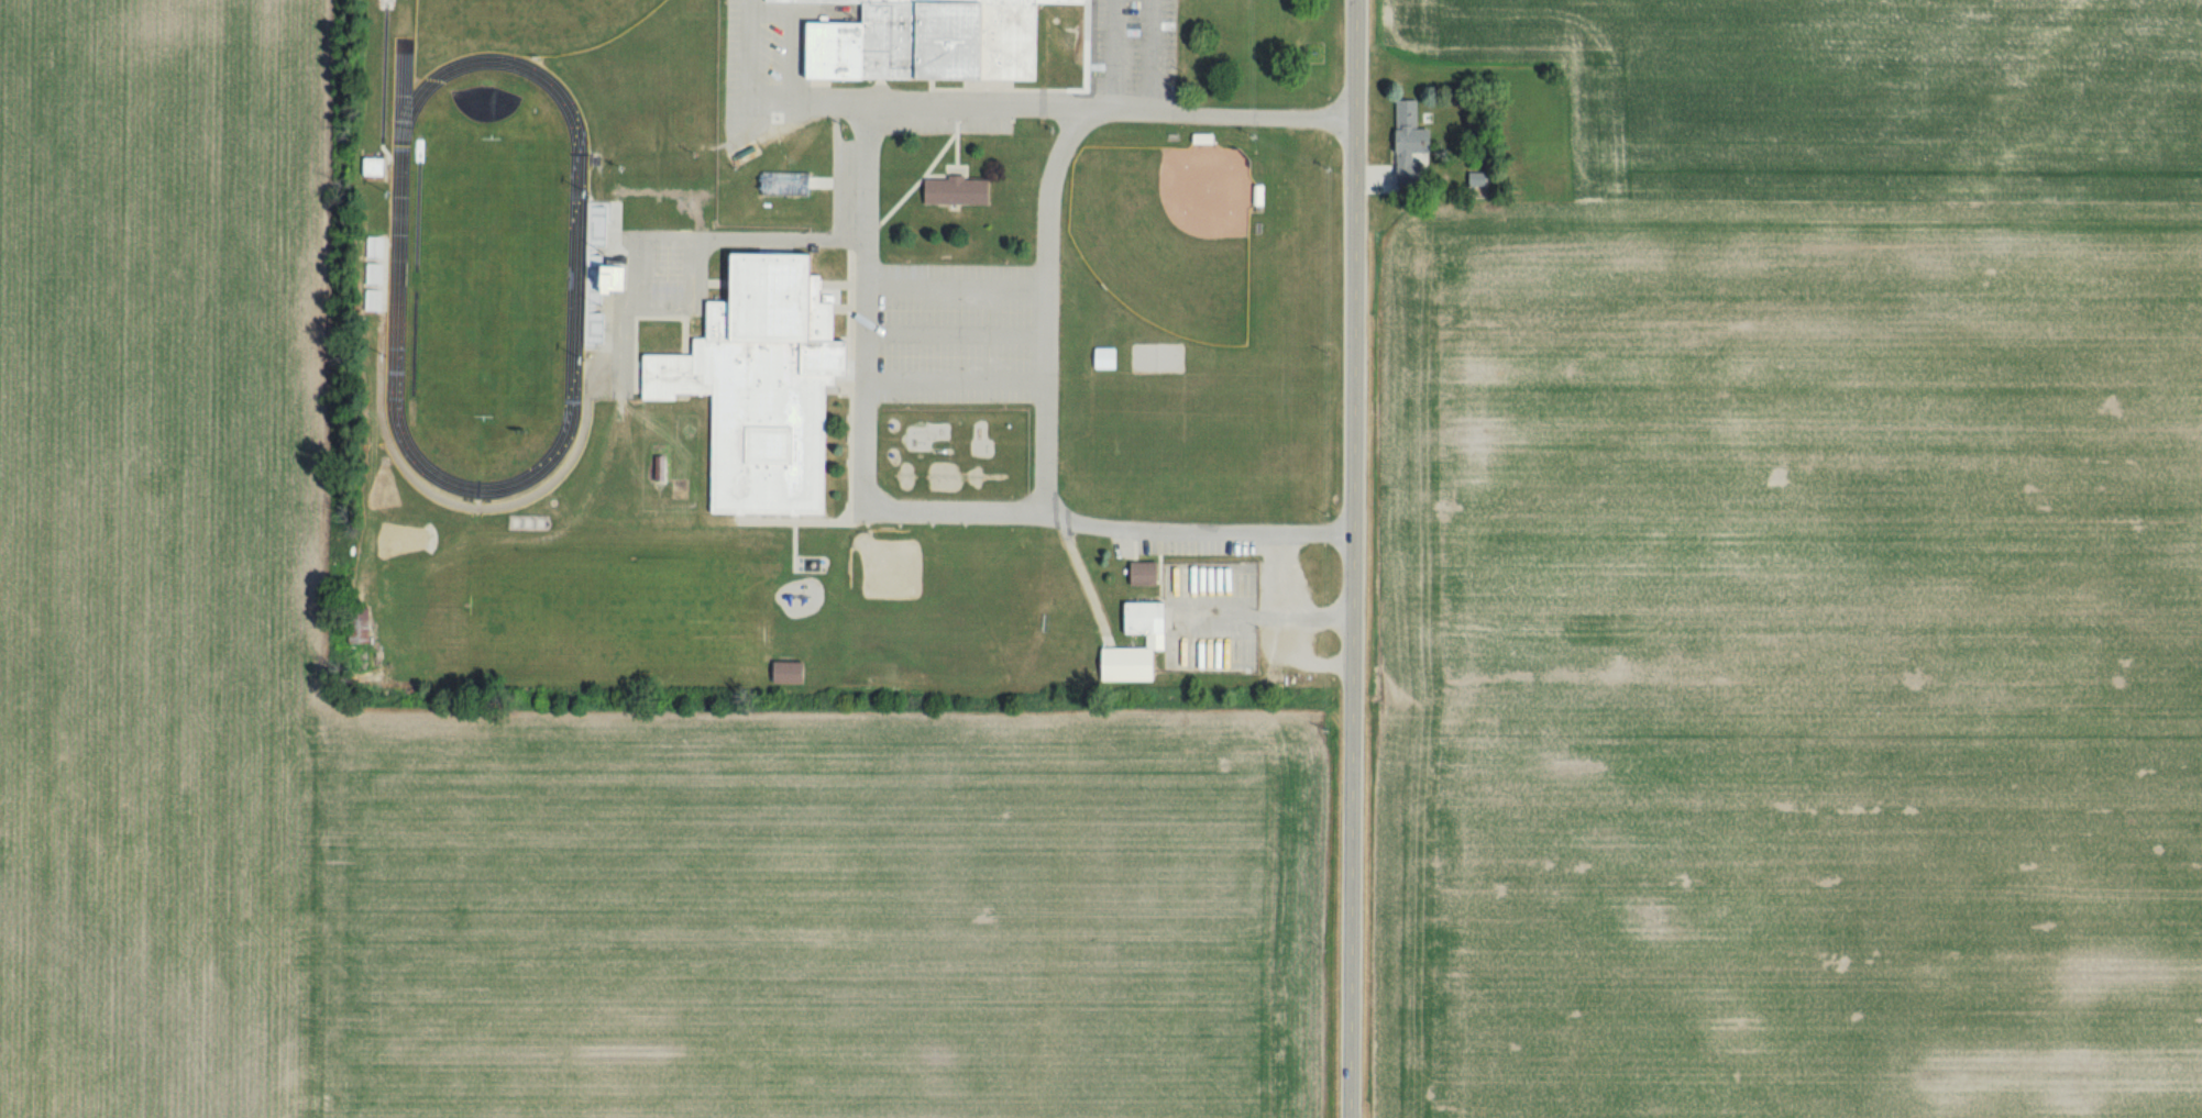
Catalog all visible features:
building: (1071, 0)
building: (386, 3)
park: (536, 19)
building: (929, 40)
parking lot: (1135, 45)
road: (1115, 54)
road: (1150, 55)
parking lot: (788, 71)
road: (1015, 88)
road: (987, 98)
road: (756, 111)
building: (1400, 137)
road: (943, 156)
building: (378, 165)
road: (933, 174)
road: (956, 174)
building: (962, 190)
road: (747, 237)
park: (1175, 246)
road: (845, 270)
track: (575, 272)
park: (491, 278)
building: (618, 279)
road: (962, 305)
road: (1053, 311)
road: (865, 312)
road: (873, 316)
parking lot: (962, 337)
road: (962, 340)
building: (1110, 358)
road: (962, 373)
road: (856, 387)
building: (772, 390)
road: (865, 519)
road: (803, 520)
road: (1036, 524)
road: (1351, 558)
road: (1288, 564)
building: (1146, 573)
building: (1133, 619)
road: (1262, 620)
building: (1156, 623)
building: (363, 624)
parking lot: (1240, 624)
building: (1133, 664)
road: (1332, 665)
building: (791, 672)

